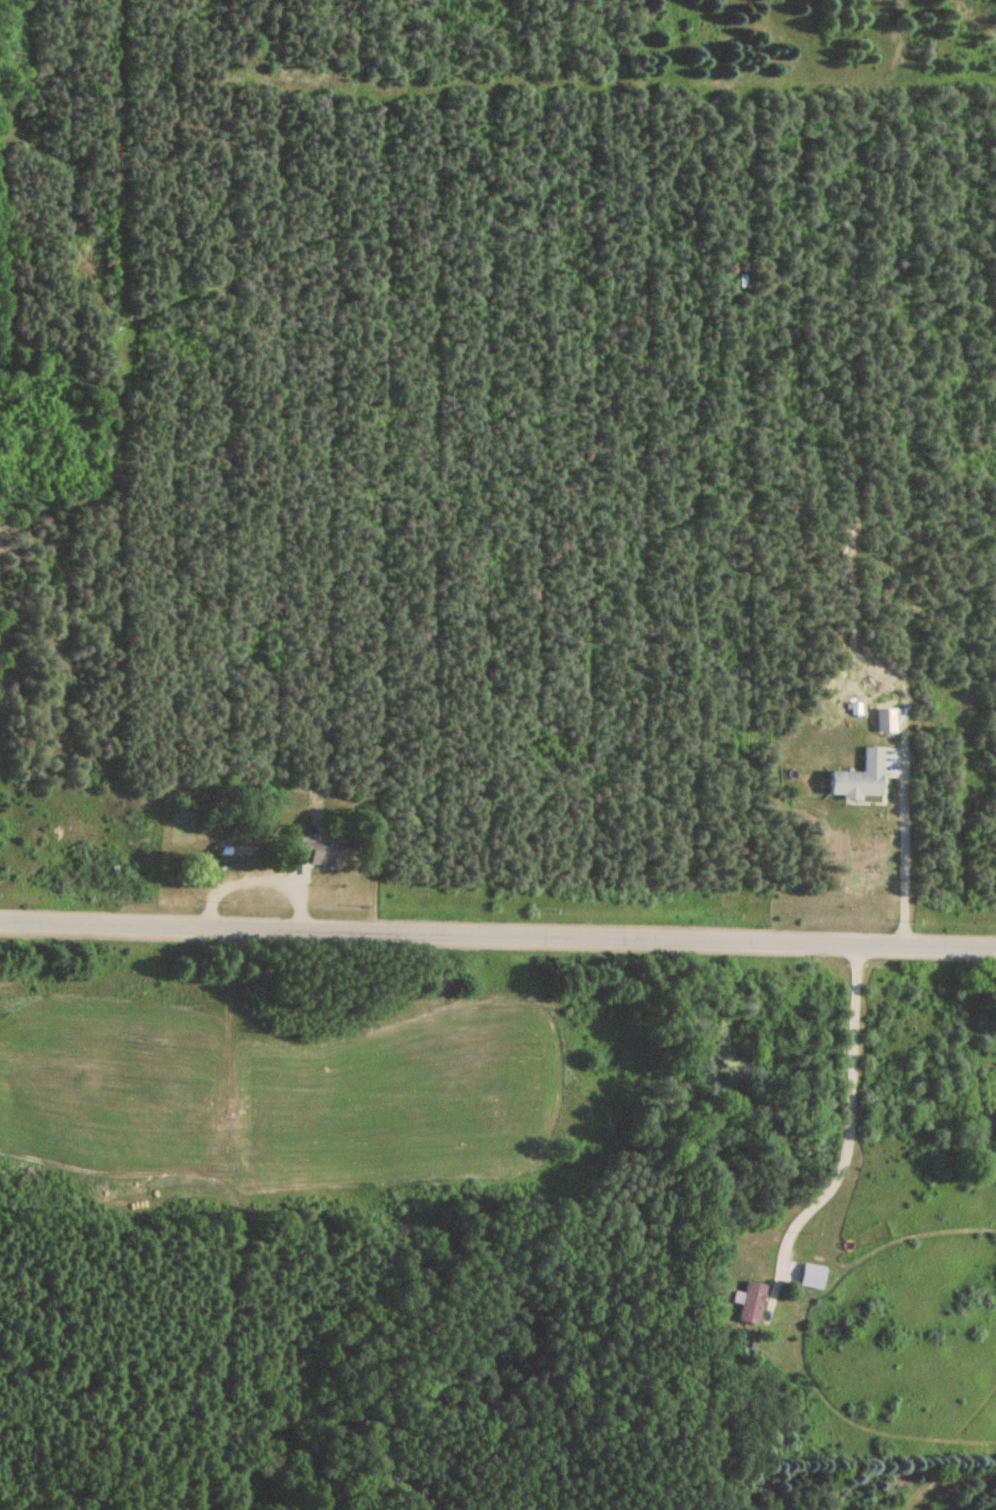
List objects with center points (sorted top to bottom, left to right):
building: (859, 778)
building: (319, 853)
road: (498, 934)
road: (845, 1134)
building: (810, 1275)
building: (751, 1303)

